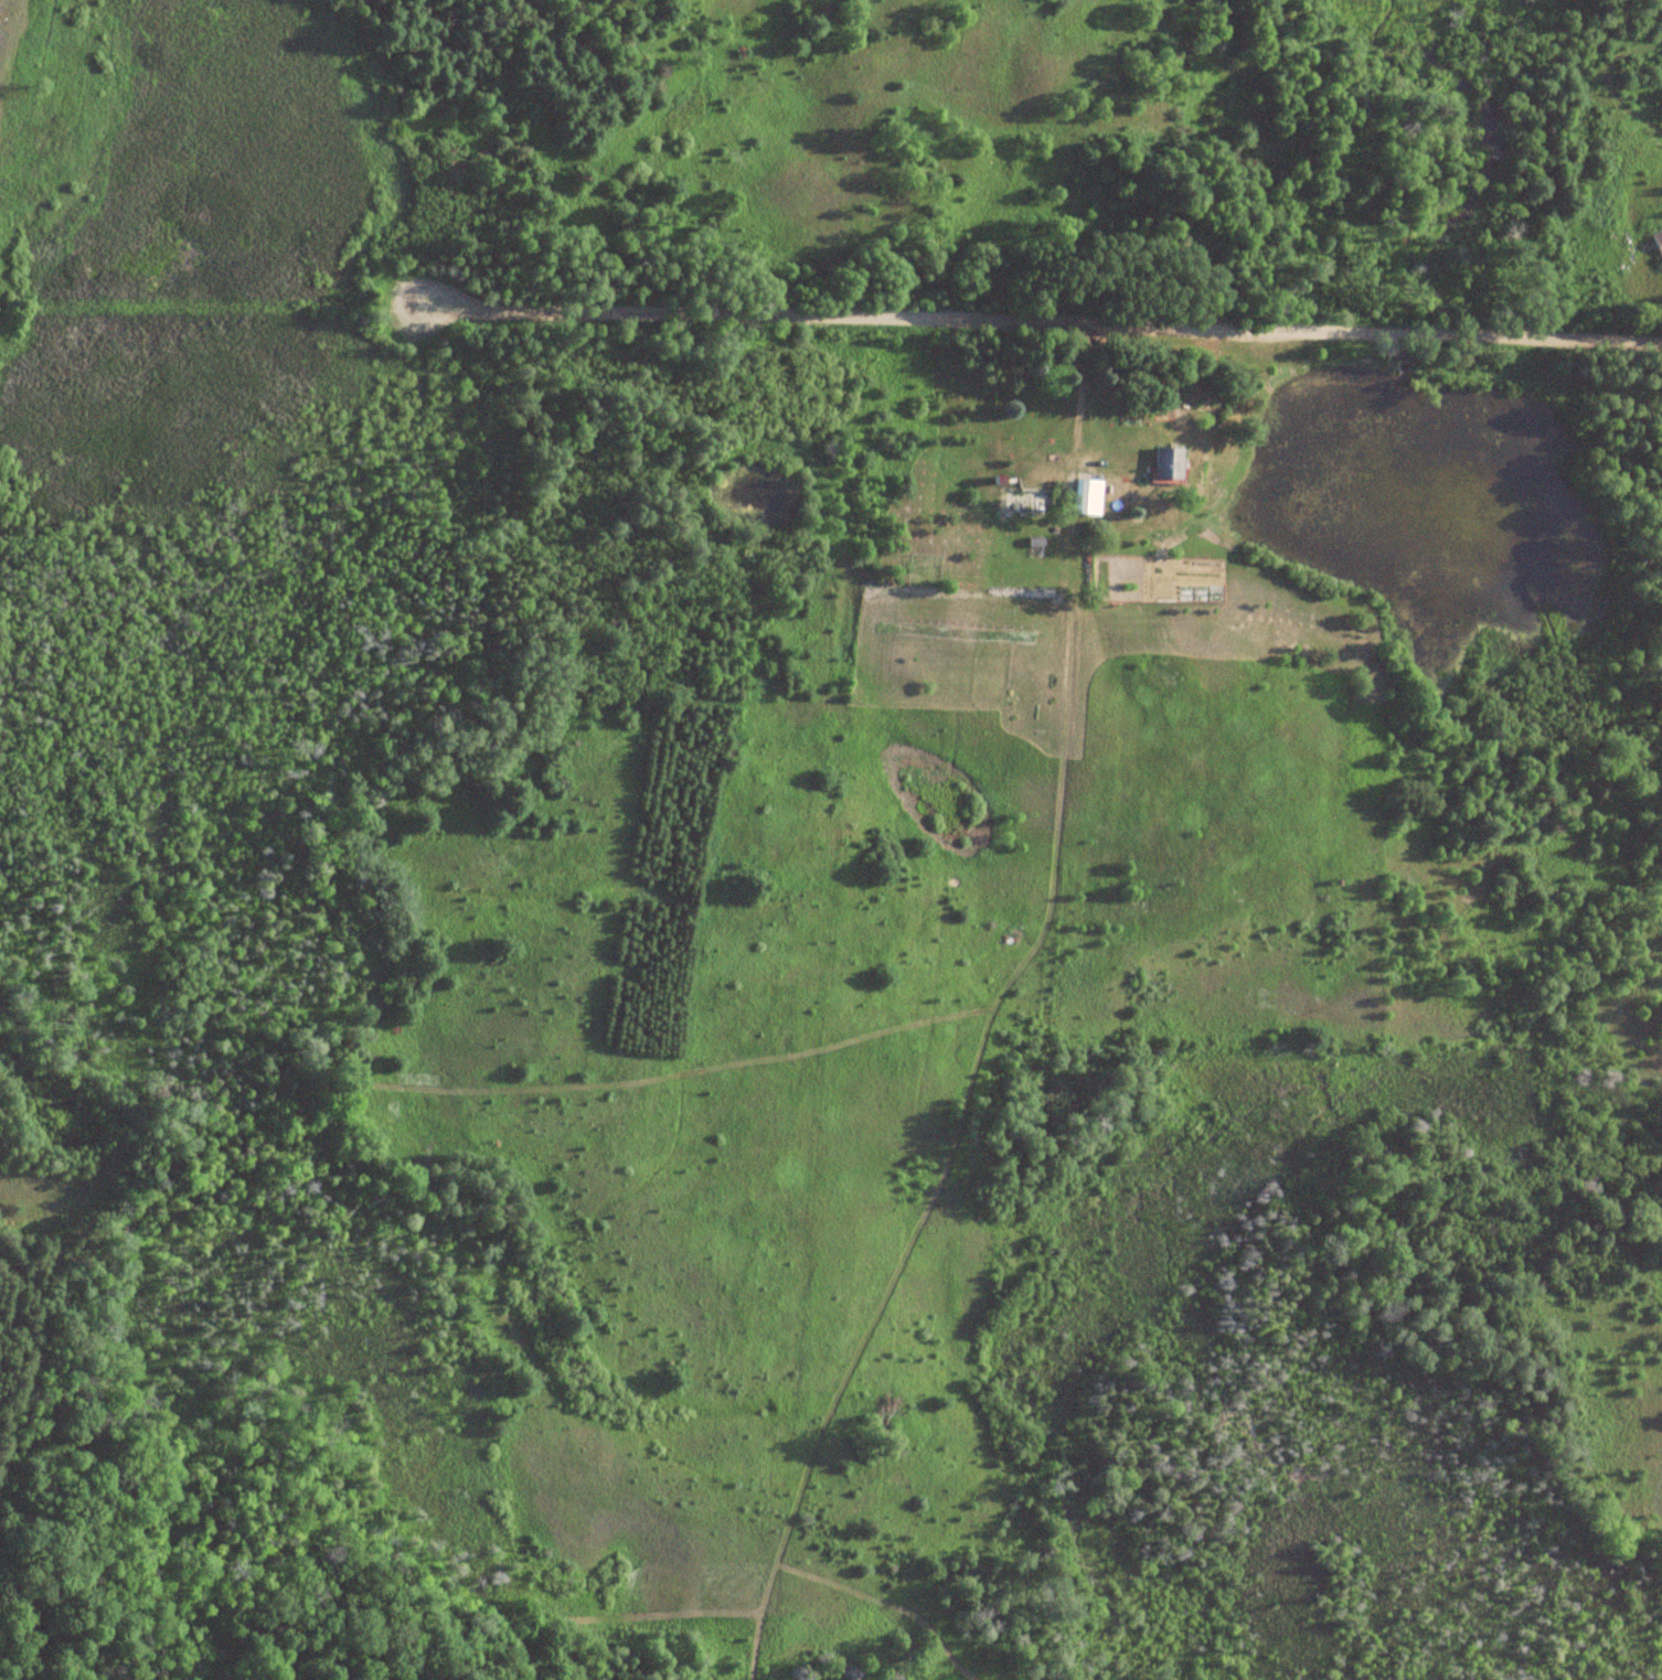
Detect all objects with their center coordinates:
building: (1658, 242)
road: (1046, 325)
building: (1169, 461)
building: (1089, 490)

